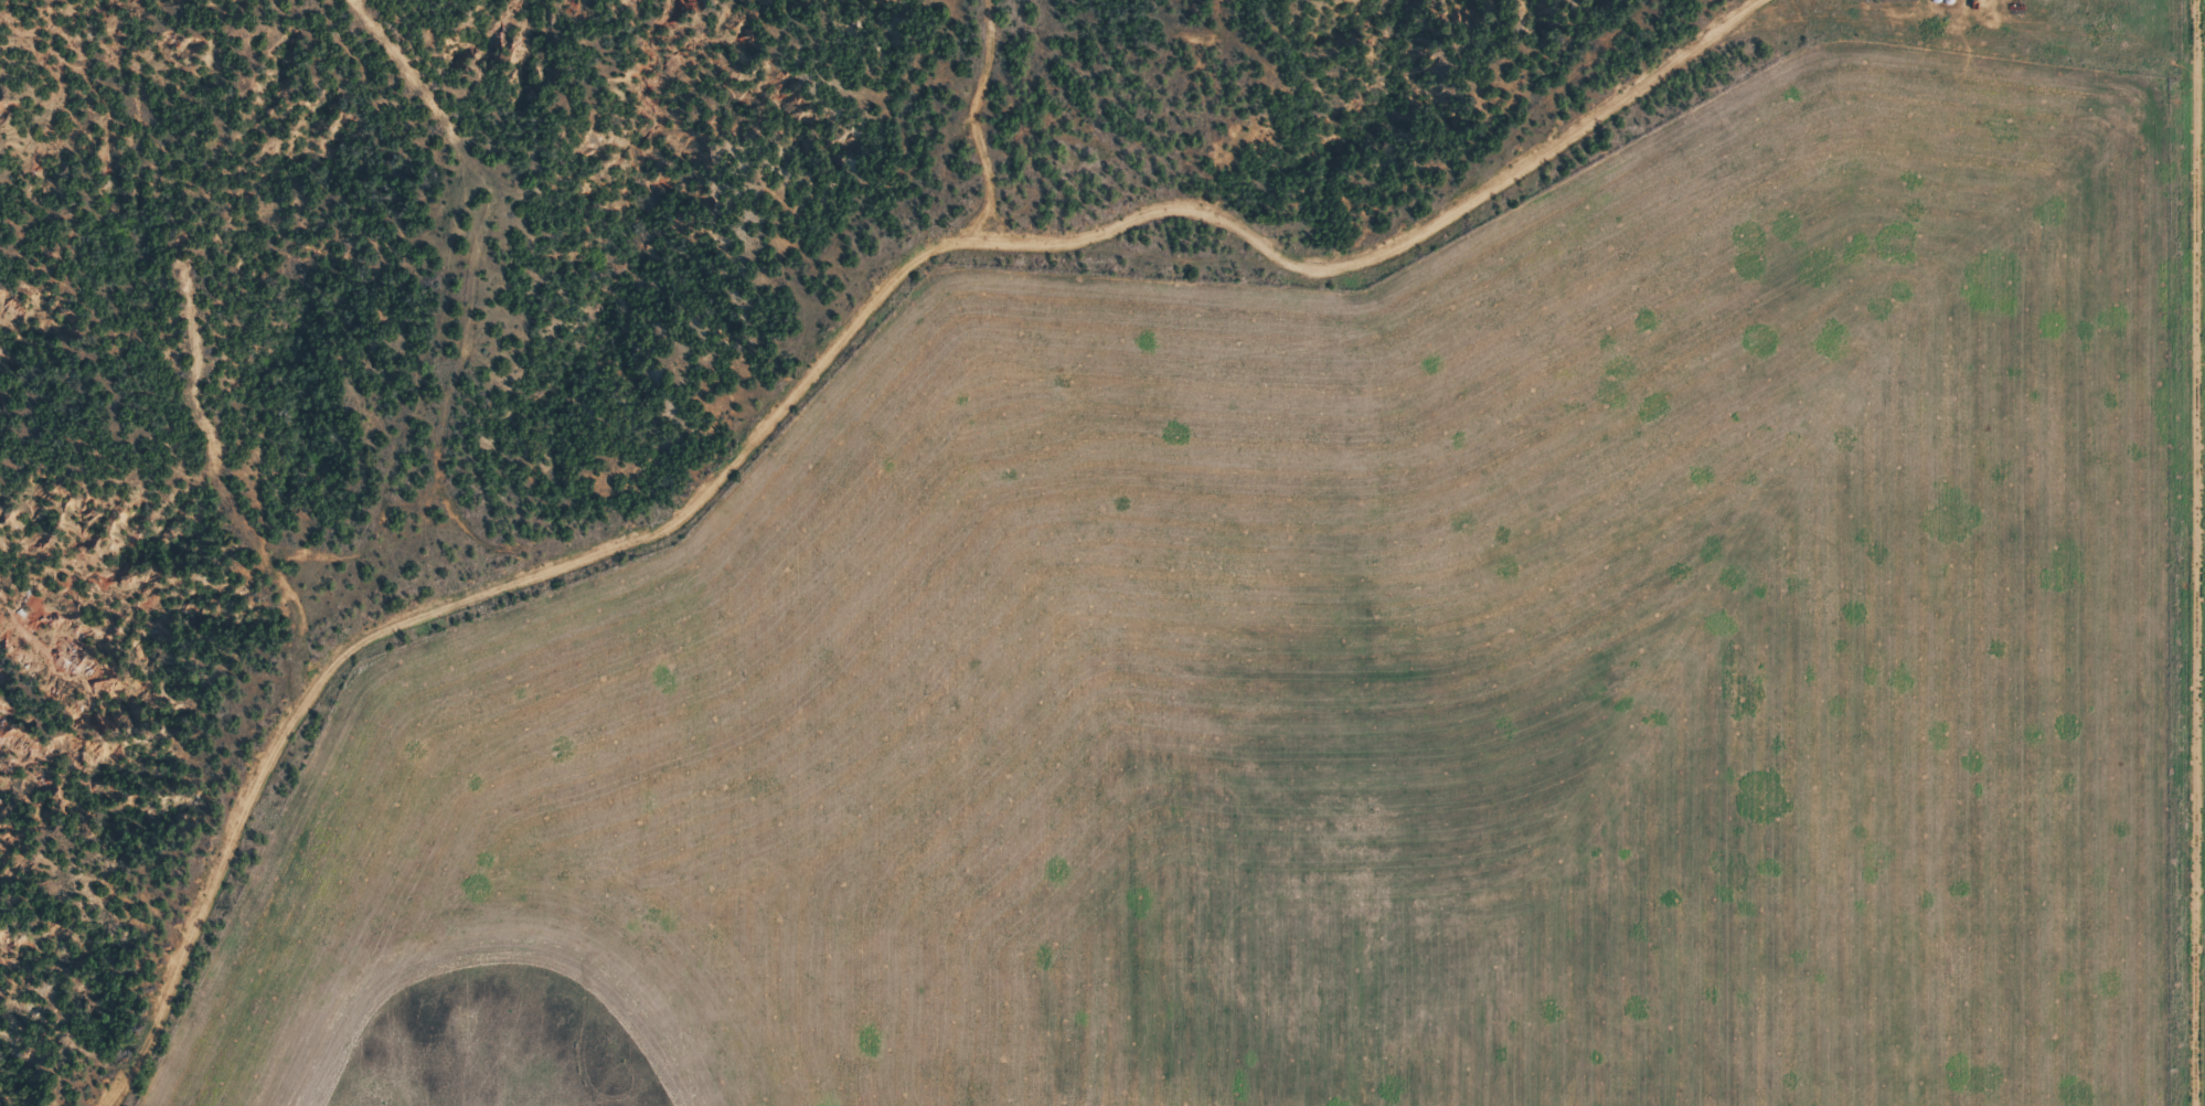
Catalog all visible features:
road: (2201, 553)

